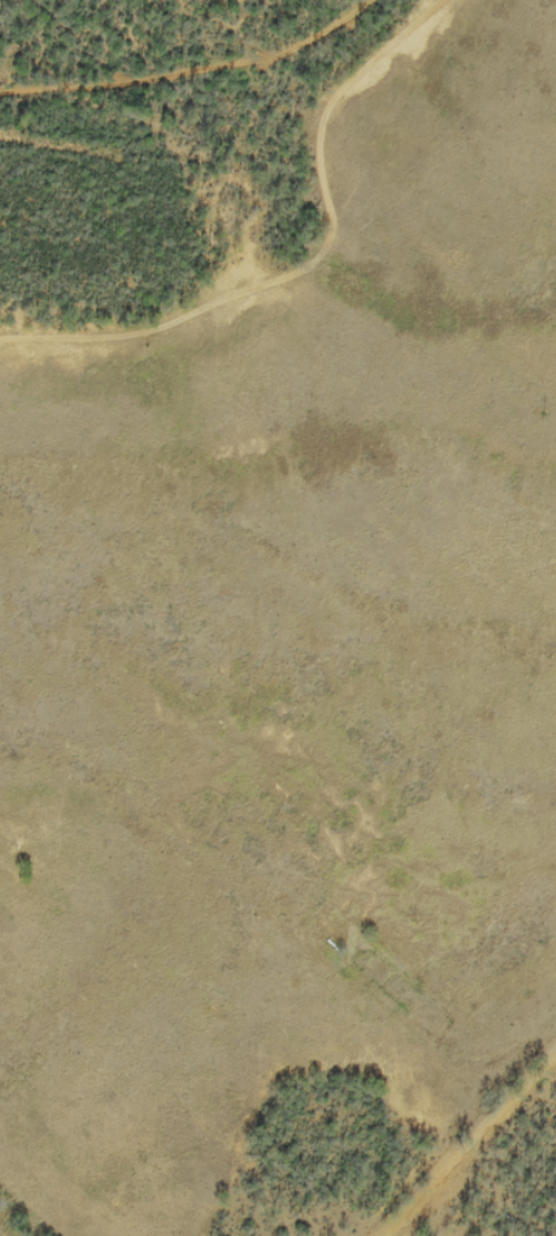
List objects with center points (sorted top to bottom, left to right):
road: (506, 1183)

